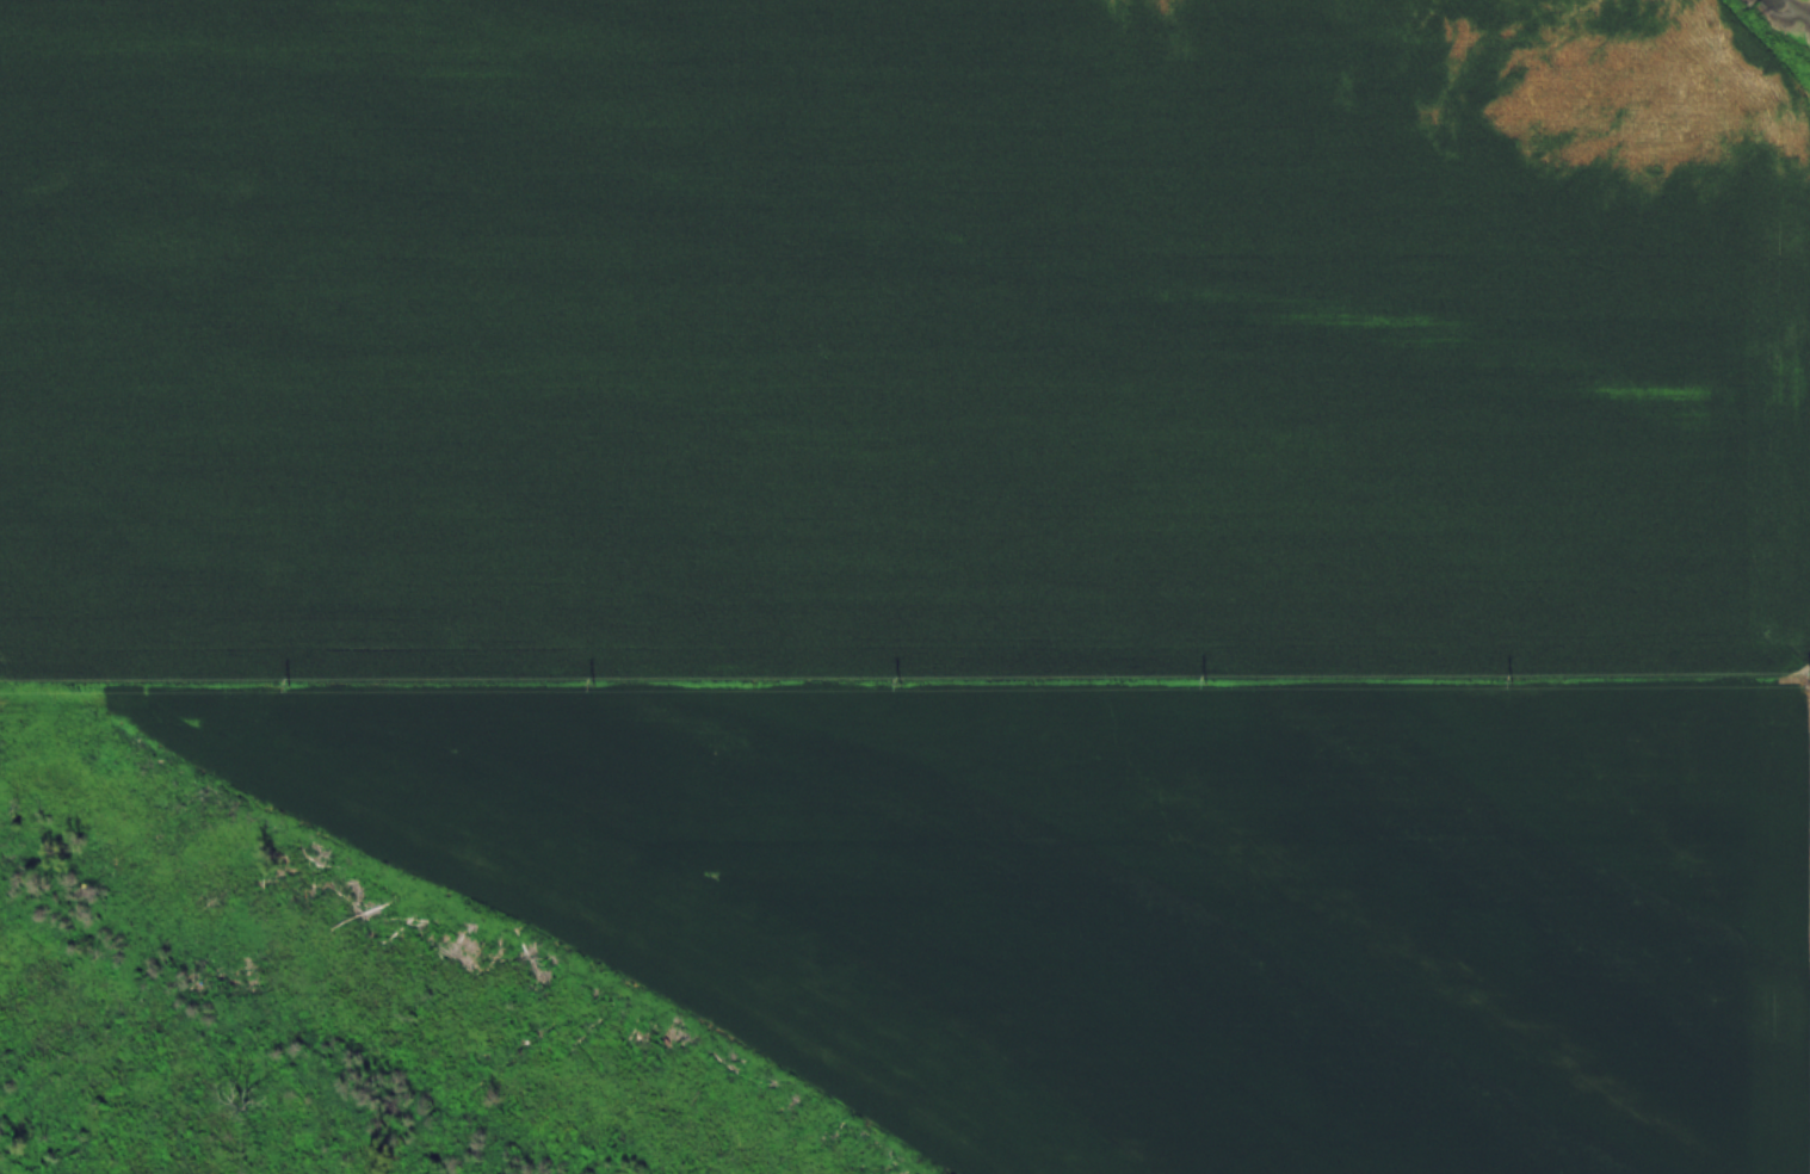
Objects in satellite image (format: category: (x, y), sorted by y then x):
power tower: (1518, 679)
power tower: (1808, 679)
power tower: (1210, 680)
power tower: (598, 682)
power tower: (903, 684)
power tower: (290, 685)

